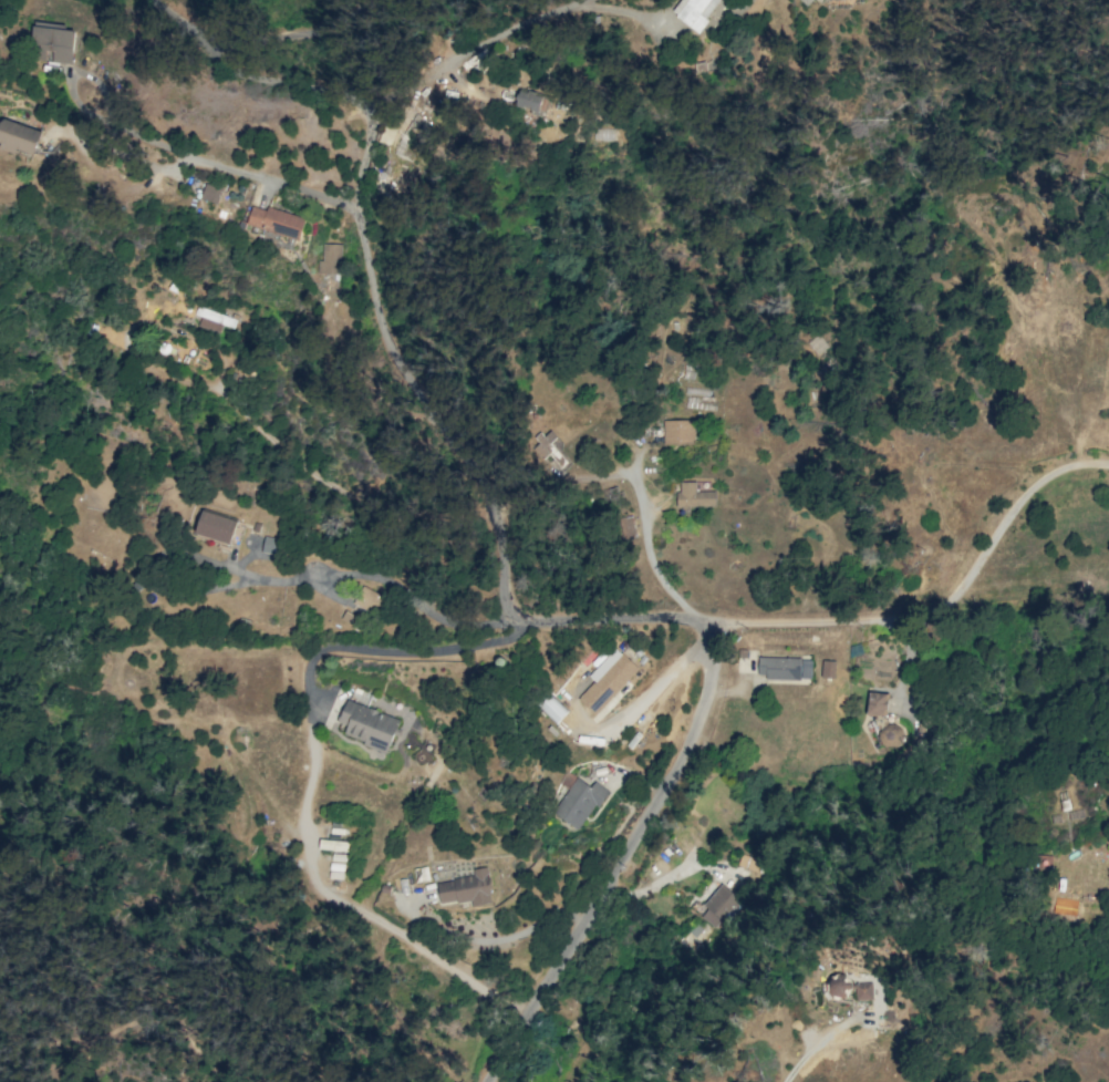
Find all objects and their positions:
building: (853, 0)
building: (809, 1)
building: (837, 1)
building: (698, 11)
building: (53, 42)
building: (531, 101)
building: (418, 122)
building: (19, 136)
road: (201, 159)
building: (211, 193)
building: (276, 220)
building: (330, 259)
road: (369, 271)
building: (214, 319)
building: (678, 432)
building: (543, 445)
building: (694, 496)
building: (216, 526)
building: (269, 544)
road: (647, 550)
building: (369, 600)
road: (935, 606)
road: (494, 640)
building: (784, 668)
building: (828, 669)
building: (607, 680)
road: (643, 694)
building: (339, 700)
building: (881, 719)
building: (367, 725)
building: (579, 803)
building: (748, 863)
building: (466, 888)
building: (717, 905)
building: (838, 985)
building: (863, 990)
road: (813, 1044)
road: (502, 1049)

